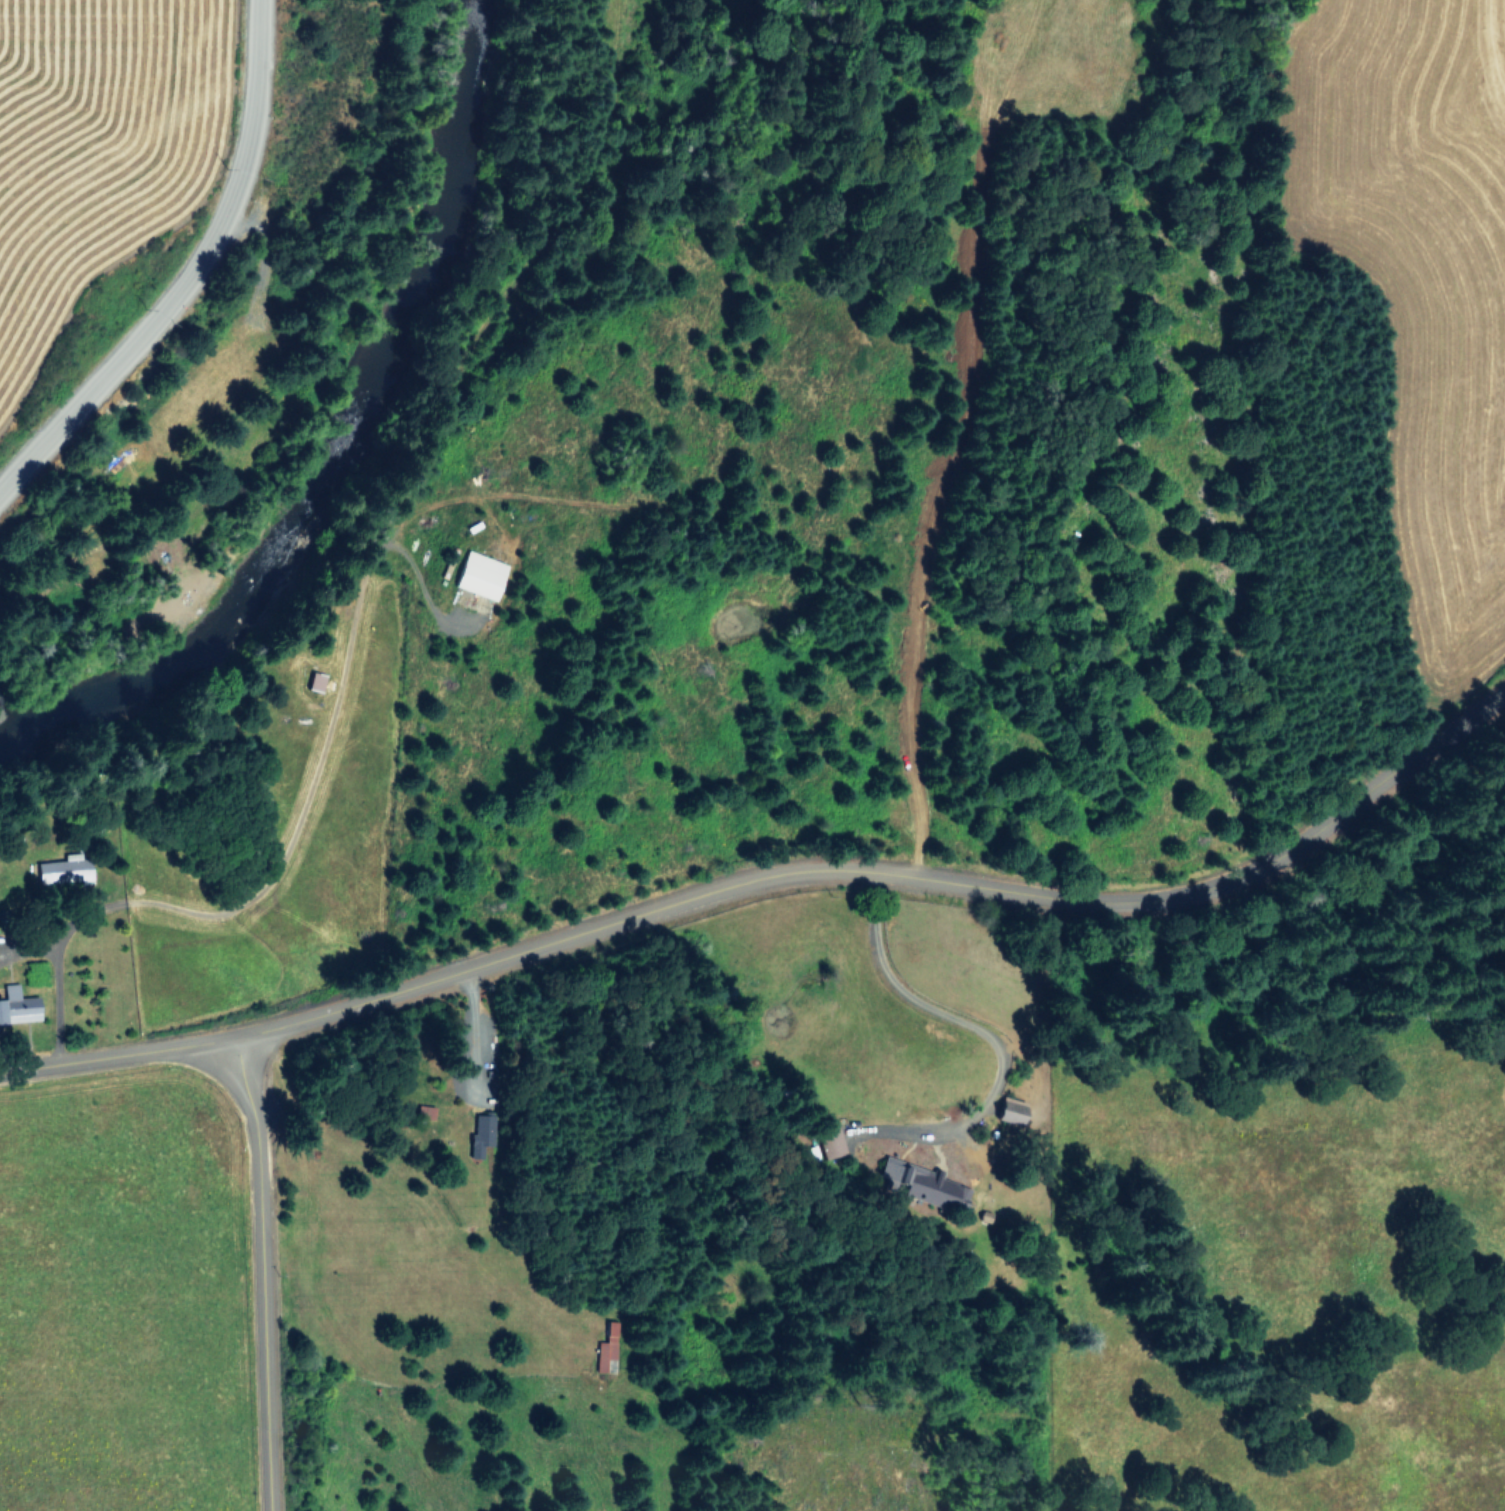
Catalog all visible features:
crop: (130, 204)
crop: (1389, 234)
road: (194, 278)
building: (480, 574)
building: (315, 680)
road: (775, 865)
building: (63, 869)
road: (52, 1001)
building: (17, 1005)
road: (934, 1011)
building: (1011, 1110)
building: (481, 1131)
building: (830, 1144)
building: (893, 1172)
building: (952, 1193)
road: (255, 1268)
crop: (1404, 1276)
building: (607, 1350)

